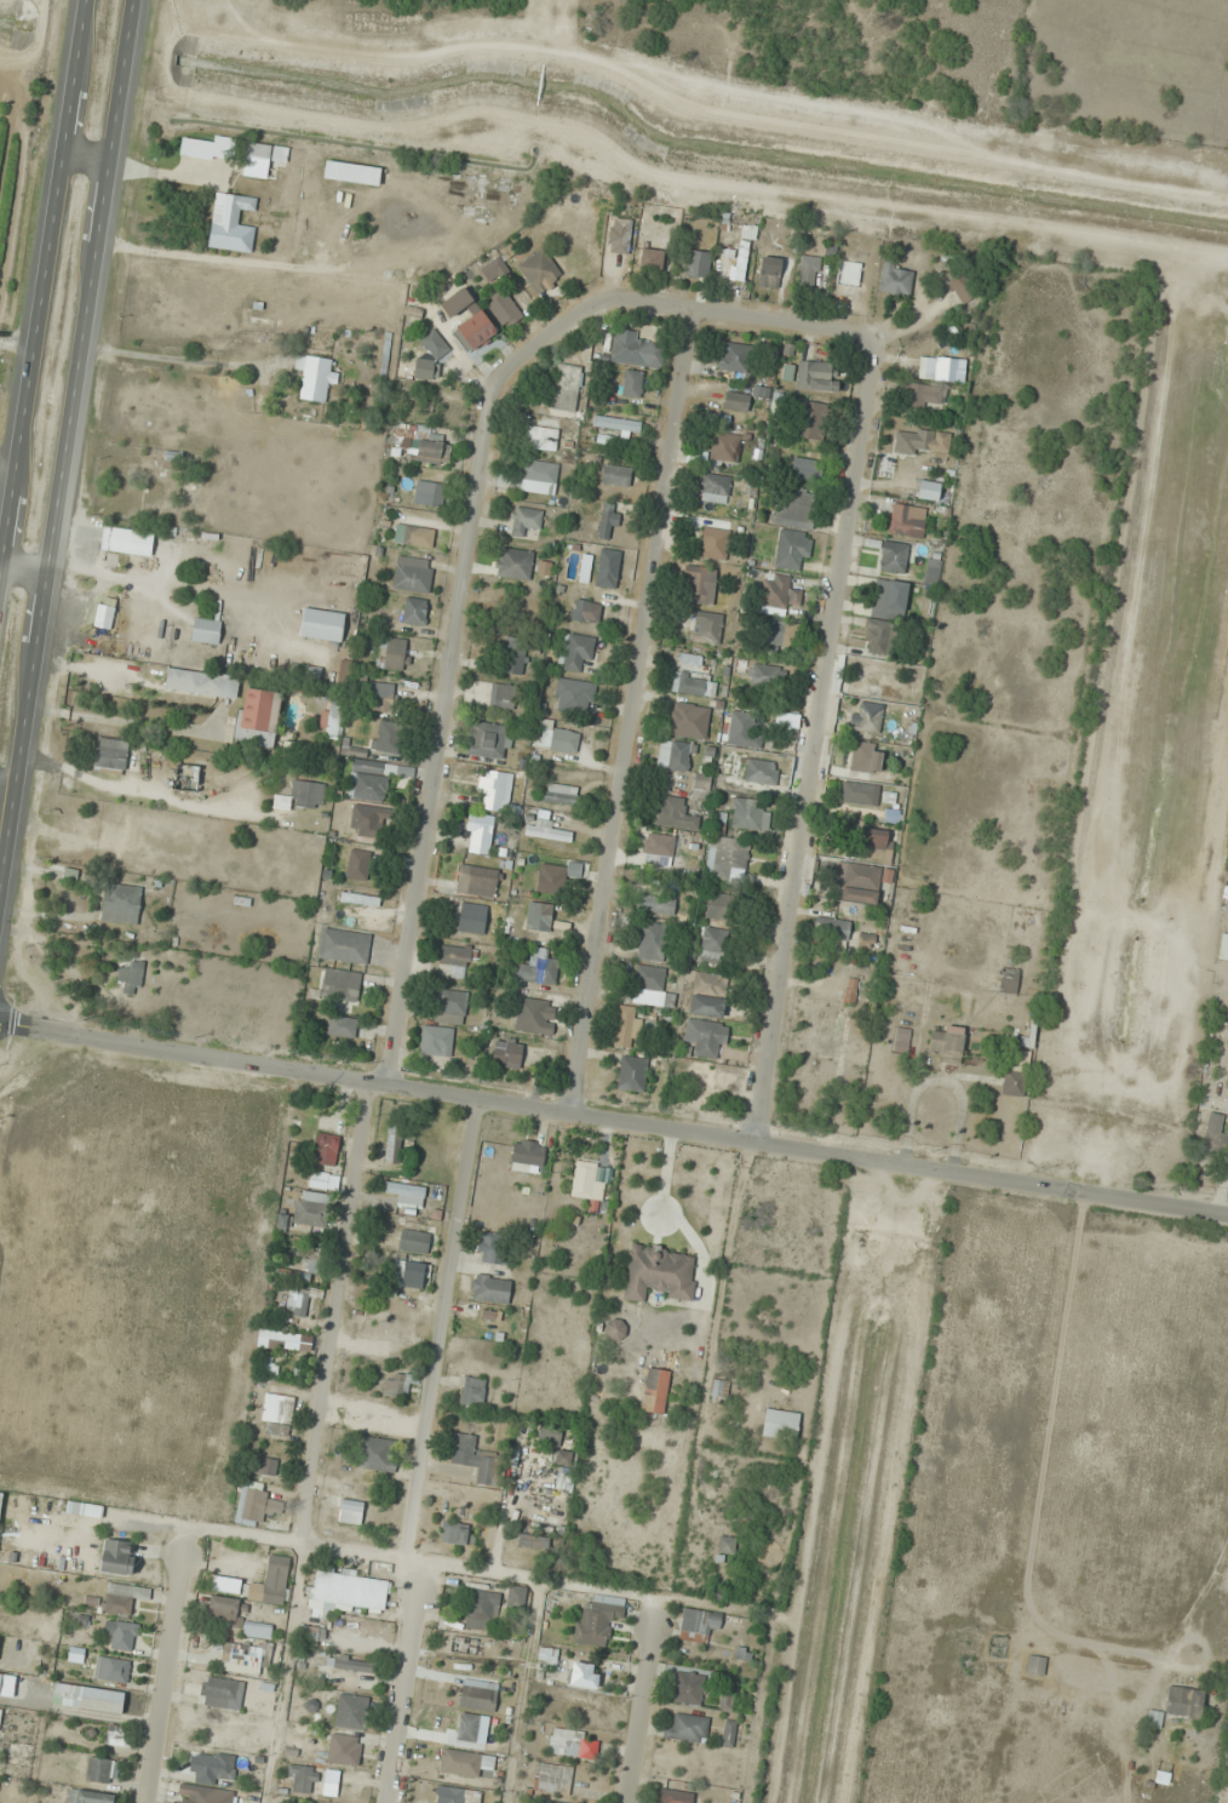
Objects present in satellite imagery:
building: (266, 153)
road: (86, 156)
building: (230, 223)
building: (652, 258)
building: (698, 264)
building: (729, 267)
building: (493, 269)
building: (768, 269)
building: (539, 270)
building: (808, 274)
building: (863, 279)
building: (895, 280)
road: (44, 286)
building: (504, 308)
road: (672, 310)
building: (476, 330)
building: (435, 345)
building: (636, 349)
building: (734, 357)
building: (941, 368)
railway: (56, 370)
building: (816, 376)
building: (316, 379)
building: (632, 384)
building: (567, 388)
building: (926, 396)
building: (736, 401)
building: (815, 413)
building: (616, 423)
building: (543, 437)
building: (922, 441)
road: (67, 443)
building: (430, 447)
building: (724, 447)
building: (805, 468)
building: (616, 474)
building: (539, 477)
building: (713, 488)
building: (929, 490)
building: (427, 493)
building: (796, 508)
building: (607, 520)
building: (524, 521)
building: (906, 522)
building: (413, 536)
building: (120, 540)
building: (716, 543)
building: (791, 549)
building: (894, 556)
building: (515, 563)
building: (543, 568)
road: (24, 569)
building: (413, 576)
building: (700, 585)
building: (776, 595)
building: (889, 599)
building: (414, 612)
building: (586, 612)
building: (321, 624)
building: (707, 628)
building: (206, 631)
building: (769, 636)
building: (879, 637)
building: (574, 651)
building: (391, 652)
building: (513, 656)
road: (136, 671)
building: (764, 676)
building: (876, 677)
building: (201, 683)
building: (694, 683)
building: (574, 696)
building: (501, 697)
building: (380, 702)
road: (636, 715)
building: (870, 717)
building: (257, 719)
building: (692, 725)
building: (742, 729)
road: (441, 733)
building: (386, 737)
building: (556, 739)
building: (487, 740)
road: (813, 744)
building: (294, 749)
building: (110, 755)
building: (675, 755)
building: (866, 757)
building: (733, 768)
building: (761, 772)
building: (369, 782)
building: (494, 790)
building: (678, 790)
building: (561, 794)
building: (860, 794)
building: (302, 796)
building: (675, 812)
building: (750, 814)
building: (368, 820)
building: (120, 826)
building: (544, 830)
building: (480, 834)
building: (659, 845)
building: (873, 845)
building: (729, 858)
building: (358, 864)
building: (551, 878)
building: (477, 881)
building: (860, 885)
building: (358, 899)
building: (120, 903)
building: (658, 903)
building: (718, 906)
building: (539, 910)
building: (472, 917)
building: (832, 928)
building: (866, 940)
building: (652, 941)
building: (343, 946)
building: (712, 948)
building: (1223, 948)
building: (455, 960)
building: (535, 971)
building: (130, 974)
building: (1009, 980)
building: (710, 983)
building: (340, 984)
building: (650, 986)
building: (850, 991)
building: (706, 1006)
building: (451, 1007)
building: (534, 1015)
building: (342, 1026)
building: (627, 1026)
building: (706, 1037)
building: (901, 1040)
building: (436, 1041)
building: (947, 1043)
building: (507, 1052)
building: (631, 1074)
building: (1016, 1075)
building: (700, 1082)
road: (613, 1122)
building: (1216, 1134)
building: (392, 1143)
building: (325, 1149)
building: (528, 1152)
building: (319, 1180)
building: (589, 1183)
building: (406, 1194)
building: (311, 1209)
building: (414, 1237)
building: (492, 1248)
building: (316, 1263)
building: (659, 1272)
building: (411, 1273)
building: (489, 1288)
building: (298, 1303)
road: (334, 1315)
building: (616, 1327)
road: (442, 1333)
building: (279, 1340)
building: (395, 1385)
building: (655, 1391)
building: (719, 1391)
building: (472, 1392)
building: (276, 1415)
building: (780, 1424)
building: (549, 1435)
building: (377, 1454)
building: (564, 1458)
building: (475, 1459)
building: (265, 1465)
building: (563, 1481)
building: (0, 1500)
building: (254, 1504)
building: (84, 1509)
building: (350, 1511)
building: (454, 1533)
building: (533, 1540)
road: (288, 1542)
building: (729, 1546)
building: (116, 1556)
building: (272, 1581)
building: (348, 1592)
building: (516, 1597)
building: (121, 1598)
building: (223, 1604)
building: (481, 1610)
building: (597, 1620)
building: (698, 1624)
building: (257, 1630)
building: (355, 1631)
building: (125, 1636)
building: (308, 1636)
building: (997, 1648)
building: (546, 1655)
building: (245, 1659)
building: (977, 1659)
building: (1035, 1665)
building: (114, 1670)
building: (584, 1675)
building: (0, 1681)
road: (406, 1685)
building: (688, 1688)
building: (725, 1688)
building: (219, 1692)
building: (478, 1695)
building: (88, 1698)
road: (642, 1700)
building: (1184, 1701)
building: (573, 1702)
building: (351, 1711)
building: (0, 1712)
building: (687, 1727)
building: (728, 1734)
building: (117, 1735)
building: (566, 1741)
building: (344, 1750)
building: (710, 1759)
building: (460, 1762)
building: (213, 1768)
building: (98, 1769)
building: (304, 1779)
building: (552, 1779)
building: (197, 1795)
building: (460, 1796)
building: (675, 1796)
building: (87, 1797)

